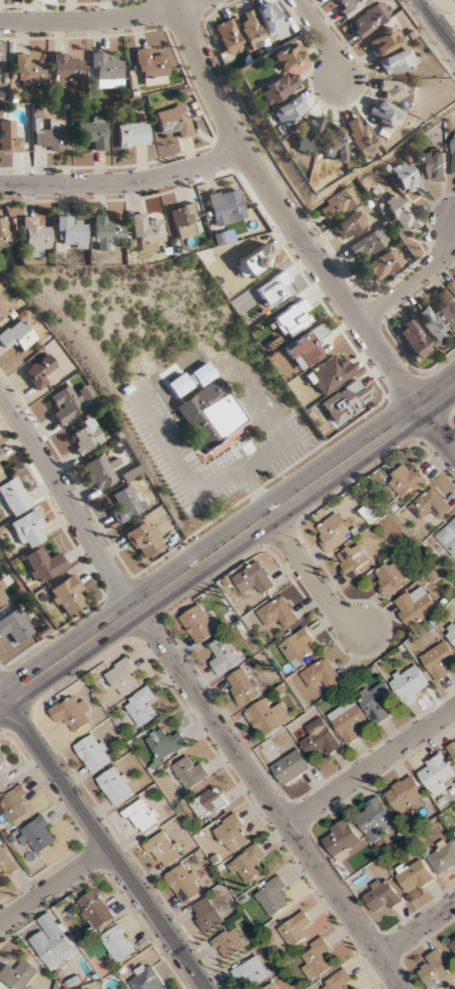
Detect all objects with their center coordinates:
building: (348, 6)
building: (270, 17)
building: (367, 19)
road: (100, 21)
road: (436, 24)
building: (251, 31)
road: (323, 36)
building: (229, 38)
road: (425, 38)
building: (382, 40)
building: (287, 57)
building: (394, 62)
building: (148, 64)
building: (104, 67)
building: (64, 69)
building: (27, 71)
building: (278, 88)
building: (392, 100)
building: (288, 110)
building: (172, 121)
building: (93, 132)
building: (131, 134)
building: (307, 134)
building: (359, 136)
building: (9, 137)
building: (49, 139)
building: (332, 143)
building: (453, 155)
building: (435, 166)
building: (403, 174)
road: (124, 184)
building: (338, 202)
building: (225, 207)
building: (400, 212)
building: (183, 221)
building: (349, 224)
building: (69, 232)
building: (144, 232)
building: (4, 233)
building: (104, 233)
road: (300, 233)
building: (34, 235)
building: (369, 241)
building: (253, 261)
building: (382, 264)
road: (414, 282)
building: (452, 286)
building: (274, 289)
building: (447, 304)
building: (1, 307)
building: (291, 318)
building: (432, 324)
building: (16, 336)
building: (413, 339)
building: (306, 346)
building: (148, 366)
building: (40, 371)
building: (327, 373)
building: (344, 399)
building: (66, 404)
building: (210, 410)
building: (86, 436)
building: (0, 461)
building: (101, 471)
road: (230, 472)
building: (0, 476)
building: (405, 479)
road: (253, 492)
building: (13, 496)
building: (125, 505)
building: (430, 505)
building: (368, 513)
building: (26, 529)
building: (333, 533)
building: (448, 536)
building: (142, 539)
road: (230, 541)
building: (353, 560)
building: (42, 563)
road: (312, 577)
building: (390, 577)
building: (254, 579)
building: (2, 595)
building: (65, 595)
building: (413, 605)
building: (277, 613)
building: (197, 624)
building: (14, 625)
building: (451, 634)
building: (298, 647)
building: (224, 655)
building: (438, 660)
building: (320, 674)
building: (123, 677)
building: (409, 683)
building: (242, 686)
road: (196, 695)
road: (2, 698)
road: (2, 702)
building: (375, 702)
building: (141, 707)
building: (71, 713)
building: (266, 716)
building: (348, 721)
building: (319, 738)
building: (166, 743)
building: (452, 749)
building: (93, 753)
road: (371, 766)
building: (291, 767)
building: (190, 772)
building: (3, 773)
building: (436, 773)
building: (115, 785)
building: (405, 794)
building: (208, 802)
building: (13, 804)
building: (140, 816)
building: (374, 820)
building: (453, 829)
building: (230, 833)
building: (35, 835)
building: (341, 840)
road: (105, 844)
building: (162, 850)
building: (442, 856)
building: (6, 863)
building: (247, 864)
building: (413, 875)
road: (53, 883)
building: (183, 883)
building: (380, 895)
building: (271, 896)
building: (94, 910)
building: (205, 915)
building: (295, 929)
road: (416, 930)
building: (52, 943)
building: (117, 943)
building: (227, 943)
building: (452, 944)
building: (316, 959)
building: (434, 968)
building: (250, 971)
building: (17, 975)
building: (145, 978)
building: (337, 981)
building: (270, 986)
building: (1, 987)

